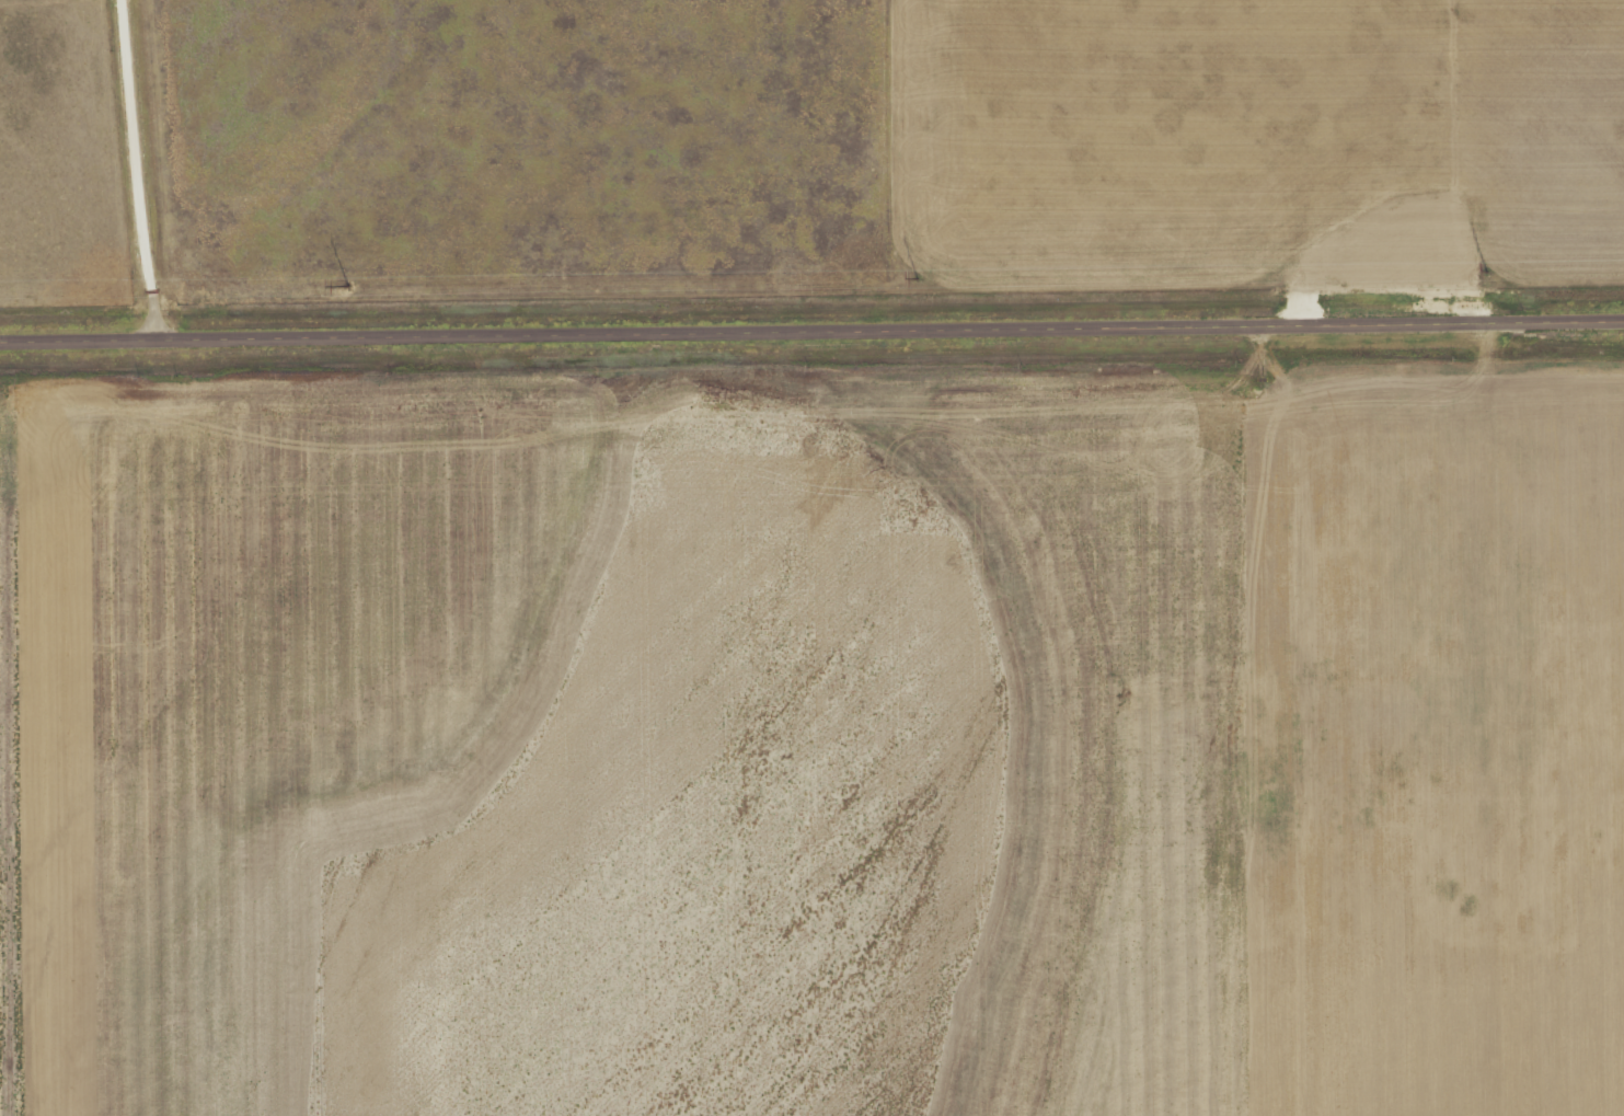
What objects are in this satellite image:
road: (110, 168)
power tower: (1487, 272)
power tower: (917, 279)
power tower: (346, 286)
road: (811, 325)
road: (1509, 716)

